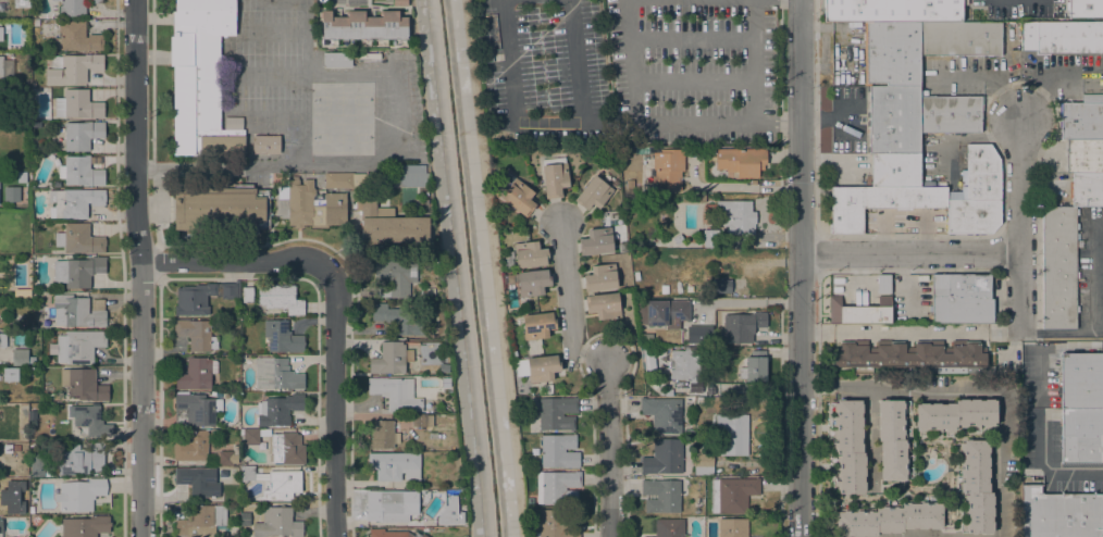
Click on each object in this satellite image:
building: (21, 3)
building: (400, 3)
building: (74, 7)
parking lot: (1016, 8)
building: (1085, 9)
building: (892, 10)
building: (363, 26)
road: (151, 28)
road: (272, 29)
building: (1, 34)
building: (1062, 36)
building: (77, 37)
road: (692, 37)
building: (959, 38)
building: (893, 52)
road: (164, 58)
building: (338, 60)
road: (754, 62)
building: (73, 68)
building: (5, 70)
road: (303, 75)
road: (270, 77)
building: (202, 80)
road: (693, 80)
building: (78, 104)
building: (951, 114)
road: (637, 117)
building: (1082, 118)
building: (894, 120)
road: (276, 123)
road: (547, 125)
road: (777, 125)
building: (82, 135)
building: (265, 147)
building: (1083, 154)
building: (742, 161)
building: (668, 170)
building: (82, 171)
building: (895, 171)
building: (409, 176)
building: (555, 177)
building: (335, 180)
building: (357, 180)
building: (58, 185)
building: (1086, 188)
building: (425, 192)
building: (12, 193)
building: (594, 193)
building: (977, 195)
building: (27, 196)
building: (519, 197)
building: (694, 199)
building: (75, 202)
building: (878, 203)
building: (309, 205)
building: (222, 209)
building: (738, 216)
building: (389, 226)
road: (1018, 227)
building: (49, 233)
building: (79, 239)
building: (678, 239)
building: (711, 239)
building: (596, 242)
building: (530, 254)
road: (909, 255)
building: (508, 260)
road: (233, 263)
road: (139, 267)
road: (442, 267)
road: (496, 267)
road: (800, 268)
building: (1058, 268)
building: (78, 272)
building: (636, 276)
building: (3, 277)
building: (395, 278)
building: (602, 278)
building: (530, 282)
building: (883, 283)
building: (721, 286)
road: (569, 289)
building: (664, 289)
building: (690, 289)
building: (431, 294)
building: (35, 295)
building: (248, 295)
building: (203, 297)
building: (281, 298)
building: (961, 298)
building: (604, 307)
building: (834, 311)
building: (78, 312)
building: (662, 313)
building: (865, 315)
building: (398, 320)
building: (538, 325)
building: (742, 327)
road: (909, 333)
building: (196, 335)
building: (701, 335)
building: (282, 338)
building: (2, 340)
building: (77, 347)
building: (909, 354)
building: (21, 357)
road: (596, 357)
building: (388, 359)
building: (755, 366)
building: (687, 367)
building: (542, 369)
building: (10, 374)
building: (197, 374)
building: (276, 374)
building: (1078, 383)
building: (84, 385)
road: (818, 387)
road: (993, 391)
building: (396, 394)
road: (333, 400)
building: (195, 410)
building: (278, 410)
building: (34, 413)
building: (556, 413)
building: (3, 414)
building: (662, 414)
building: (955, 415)
building: (91, 421)
building: (422, 421)
road: (869, 432)
building: (383, 435)
building: (251, 436)
building: (1082, 436)
building: (732, 439)
building: (892, 441)
building: (702, 442)
building: (191, 447)
building: (850, 447)
building: (287, 448)
building: (15, 449)
road: (610, 450)
building: (558, 451)
building: (224, 458)
building: (664, 458)
building: (80, 459)
building: (704, 461)
building: (39, 465)
building: (395, 465)
road: (1045, 471)
building: (247, 473)
building: (198, 482)
building: (281, 485)
building: (557, 487)
building: (977, 487)
building: (79, 495)
building: (732, 495)
building: (660, 496)
building: (530, 501)
building: (701, 502)
building: (389, 508)
building: (1061, 514)
building: (245, 520)
building: (888, 520)
building: (201, 521)
building: (277, 523)
building: (551, 525)
building: (1, 526)
building: (85, 526)
building: (669, 527)
building: (732, 527)
building: (392, 534)

